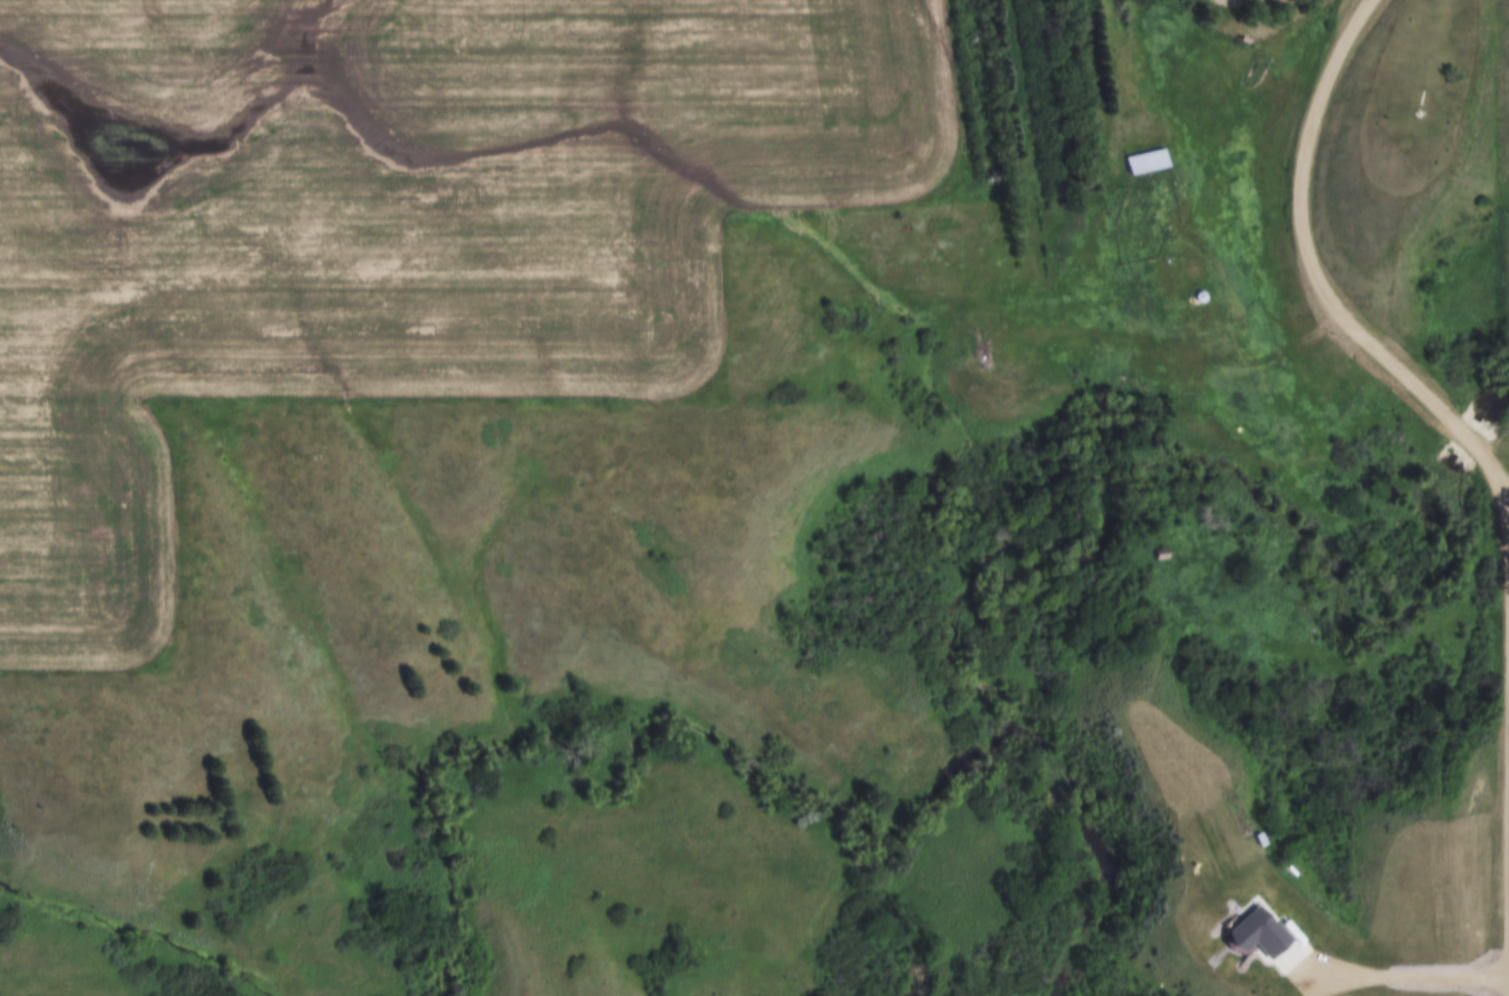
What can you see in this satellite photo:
building: (1146, 163)
road: (1320, 277)
road: (1504, 476)
building: (1161, 556)

